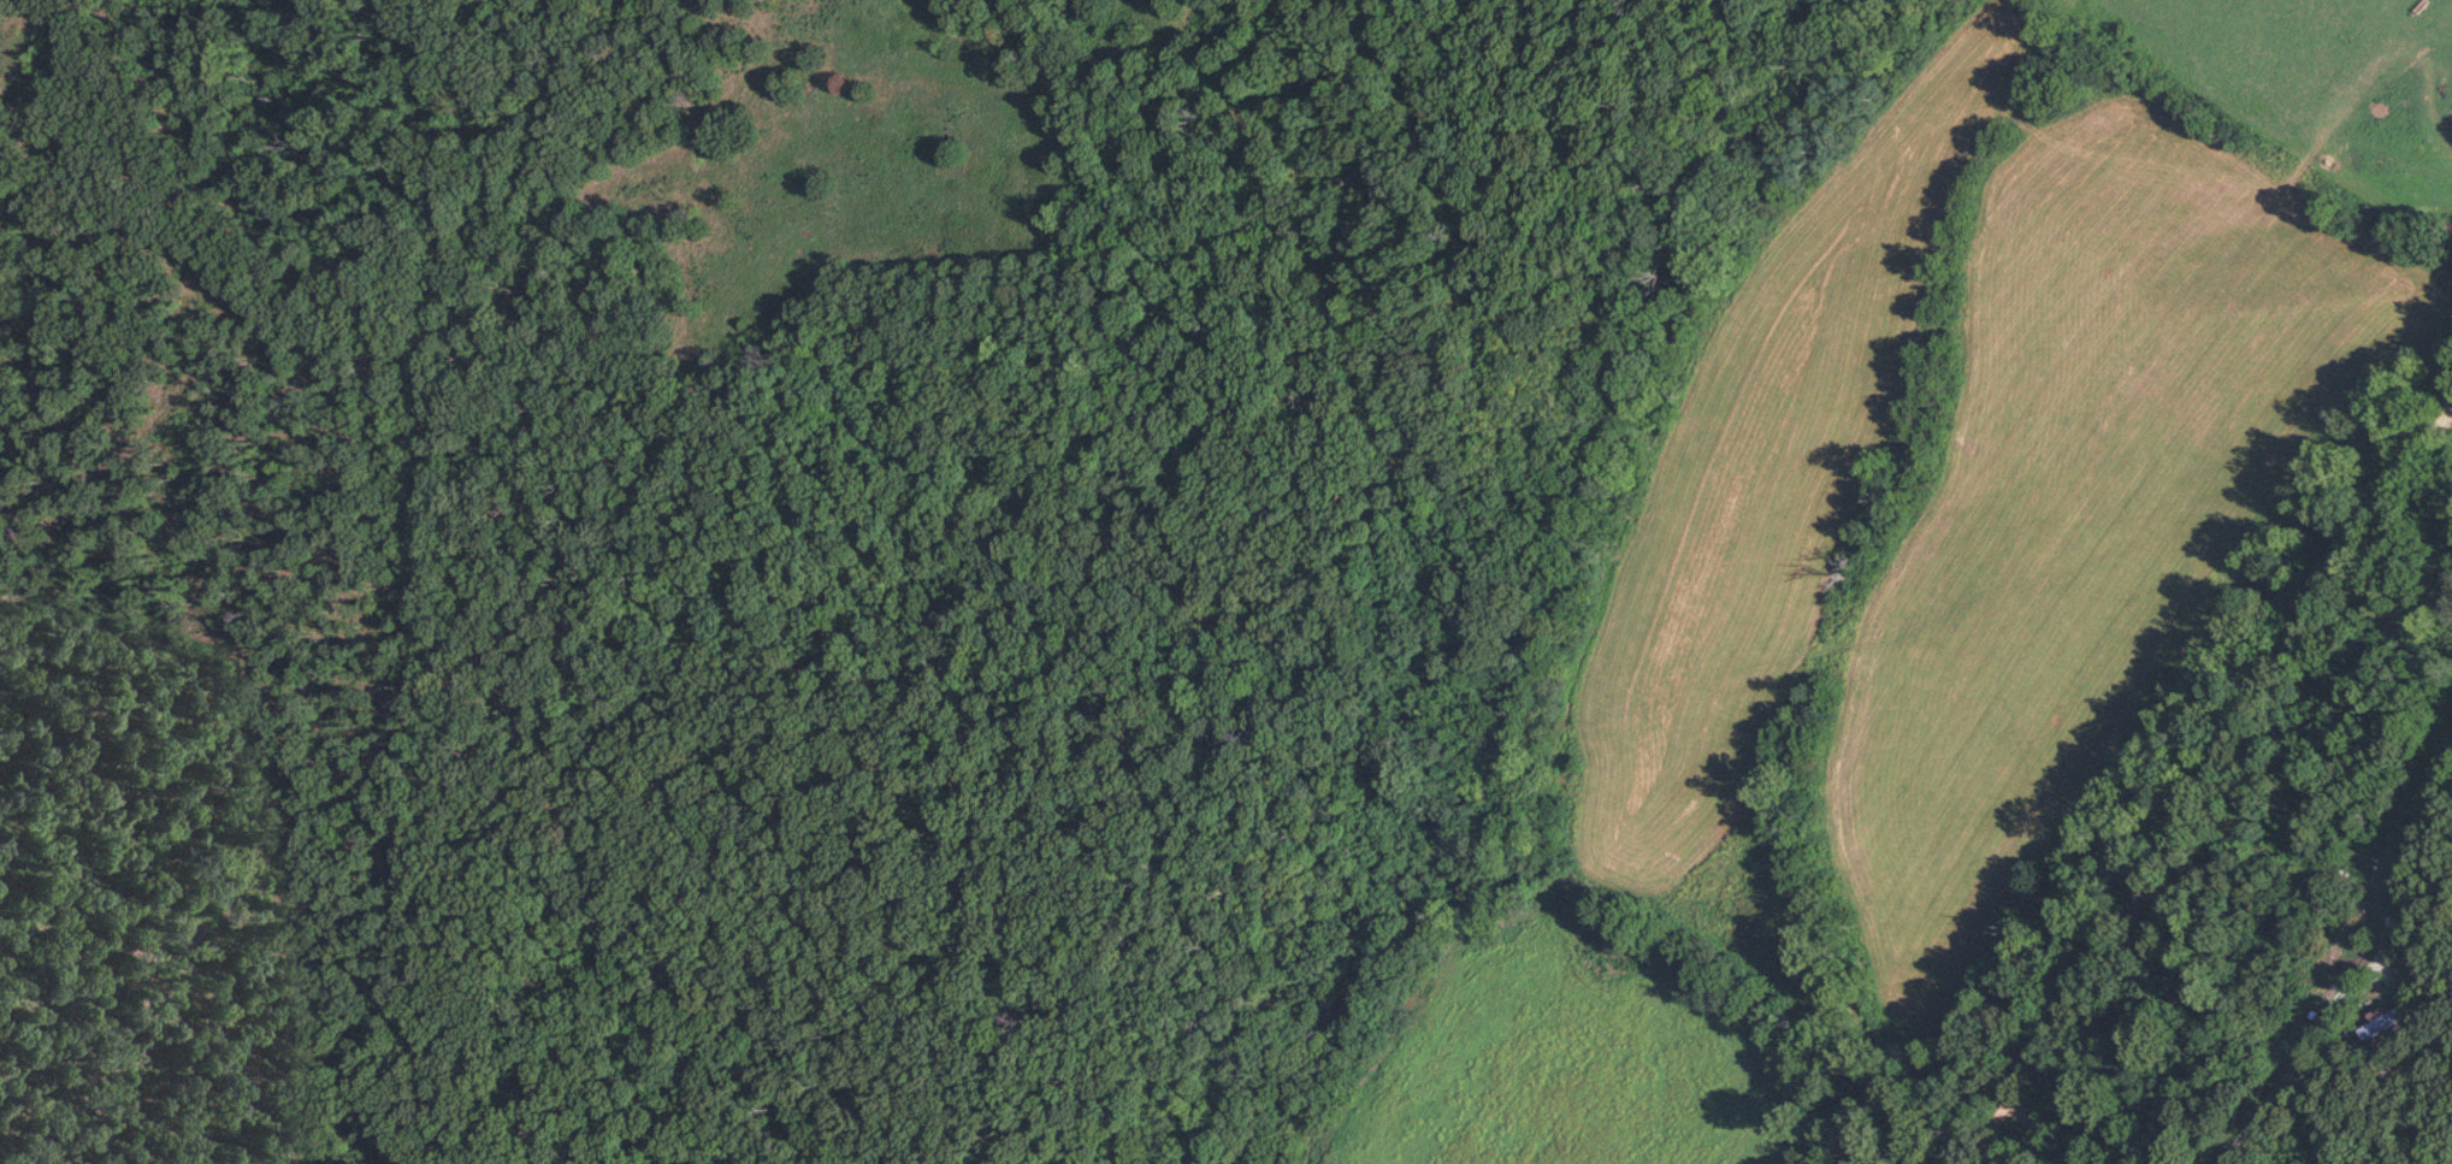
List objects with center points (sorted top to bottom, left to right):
road: (2440, 412)
road: (2205, 770)
building: (2379, 1021)

